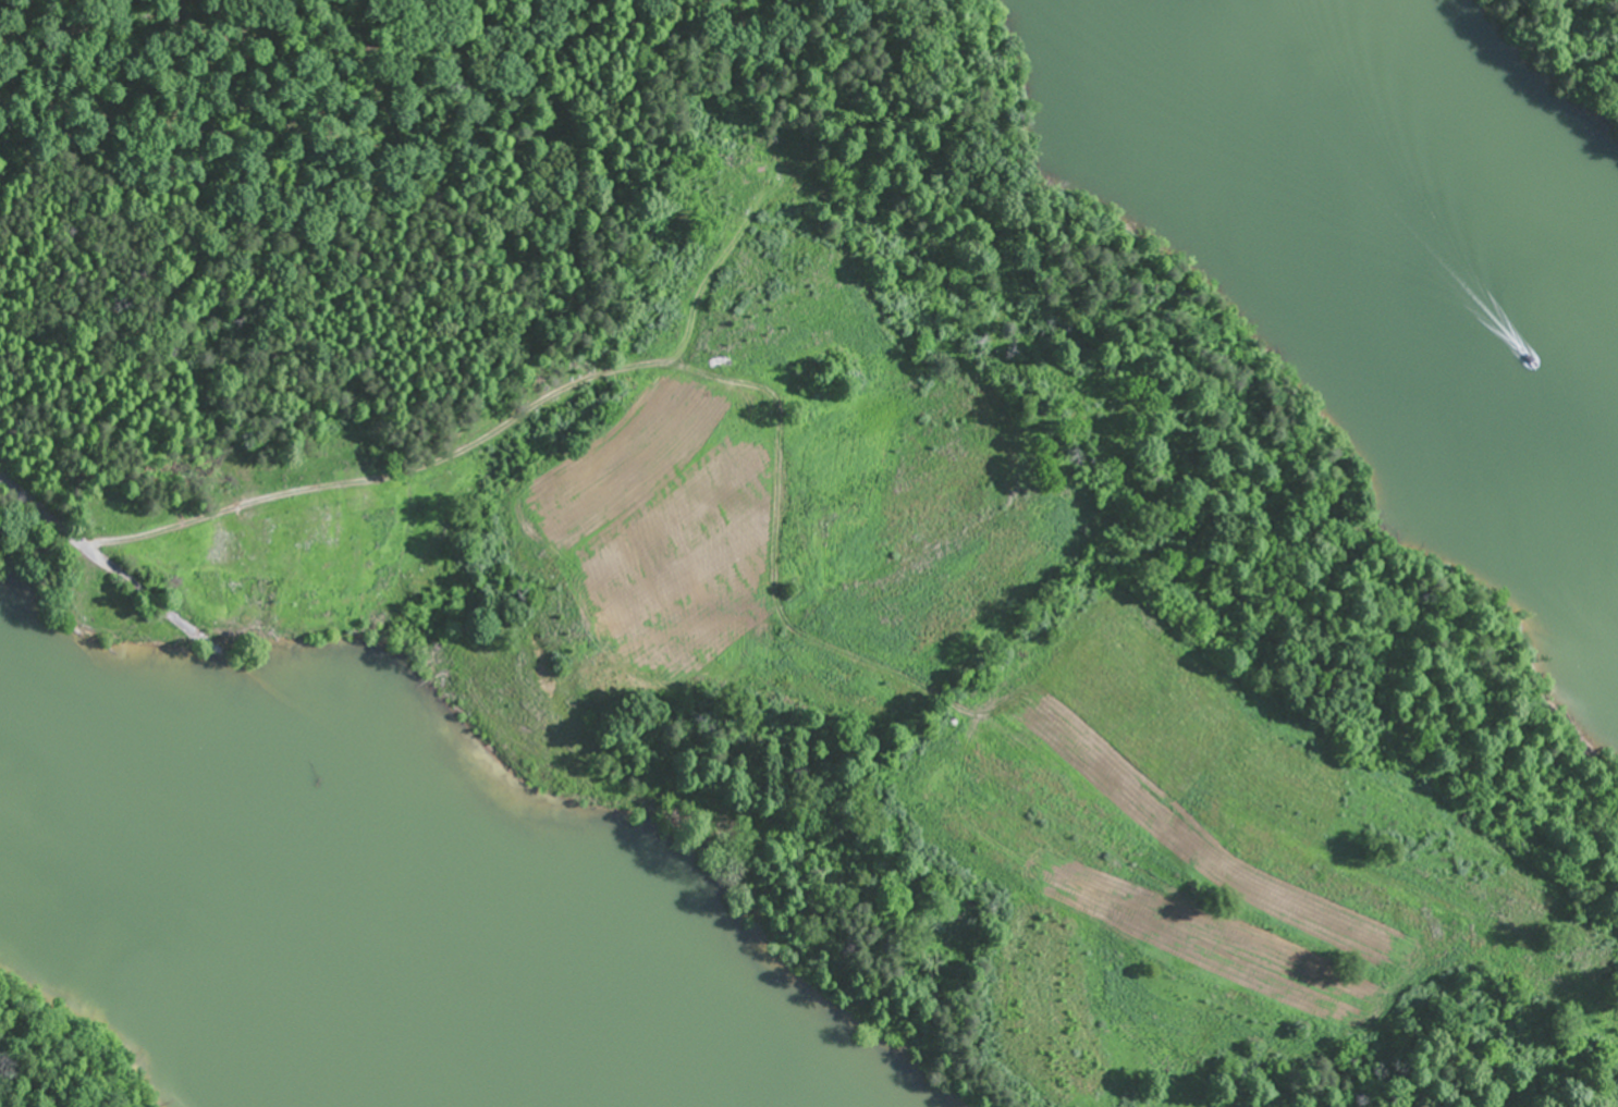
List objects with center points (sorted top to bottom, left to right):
park: (1567, 46)
river: (1430, 248)
road: (107, 563)
river: (284, 932)

